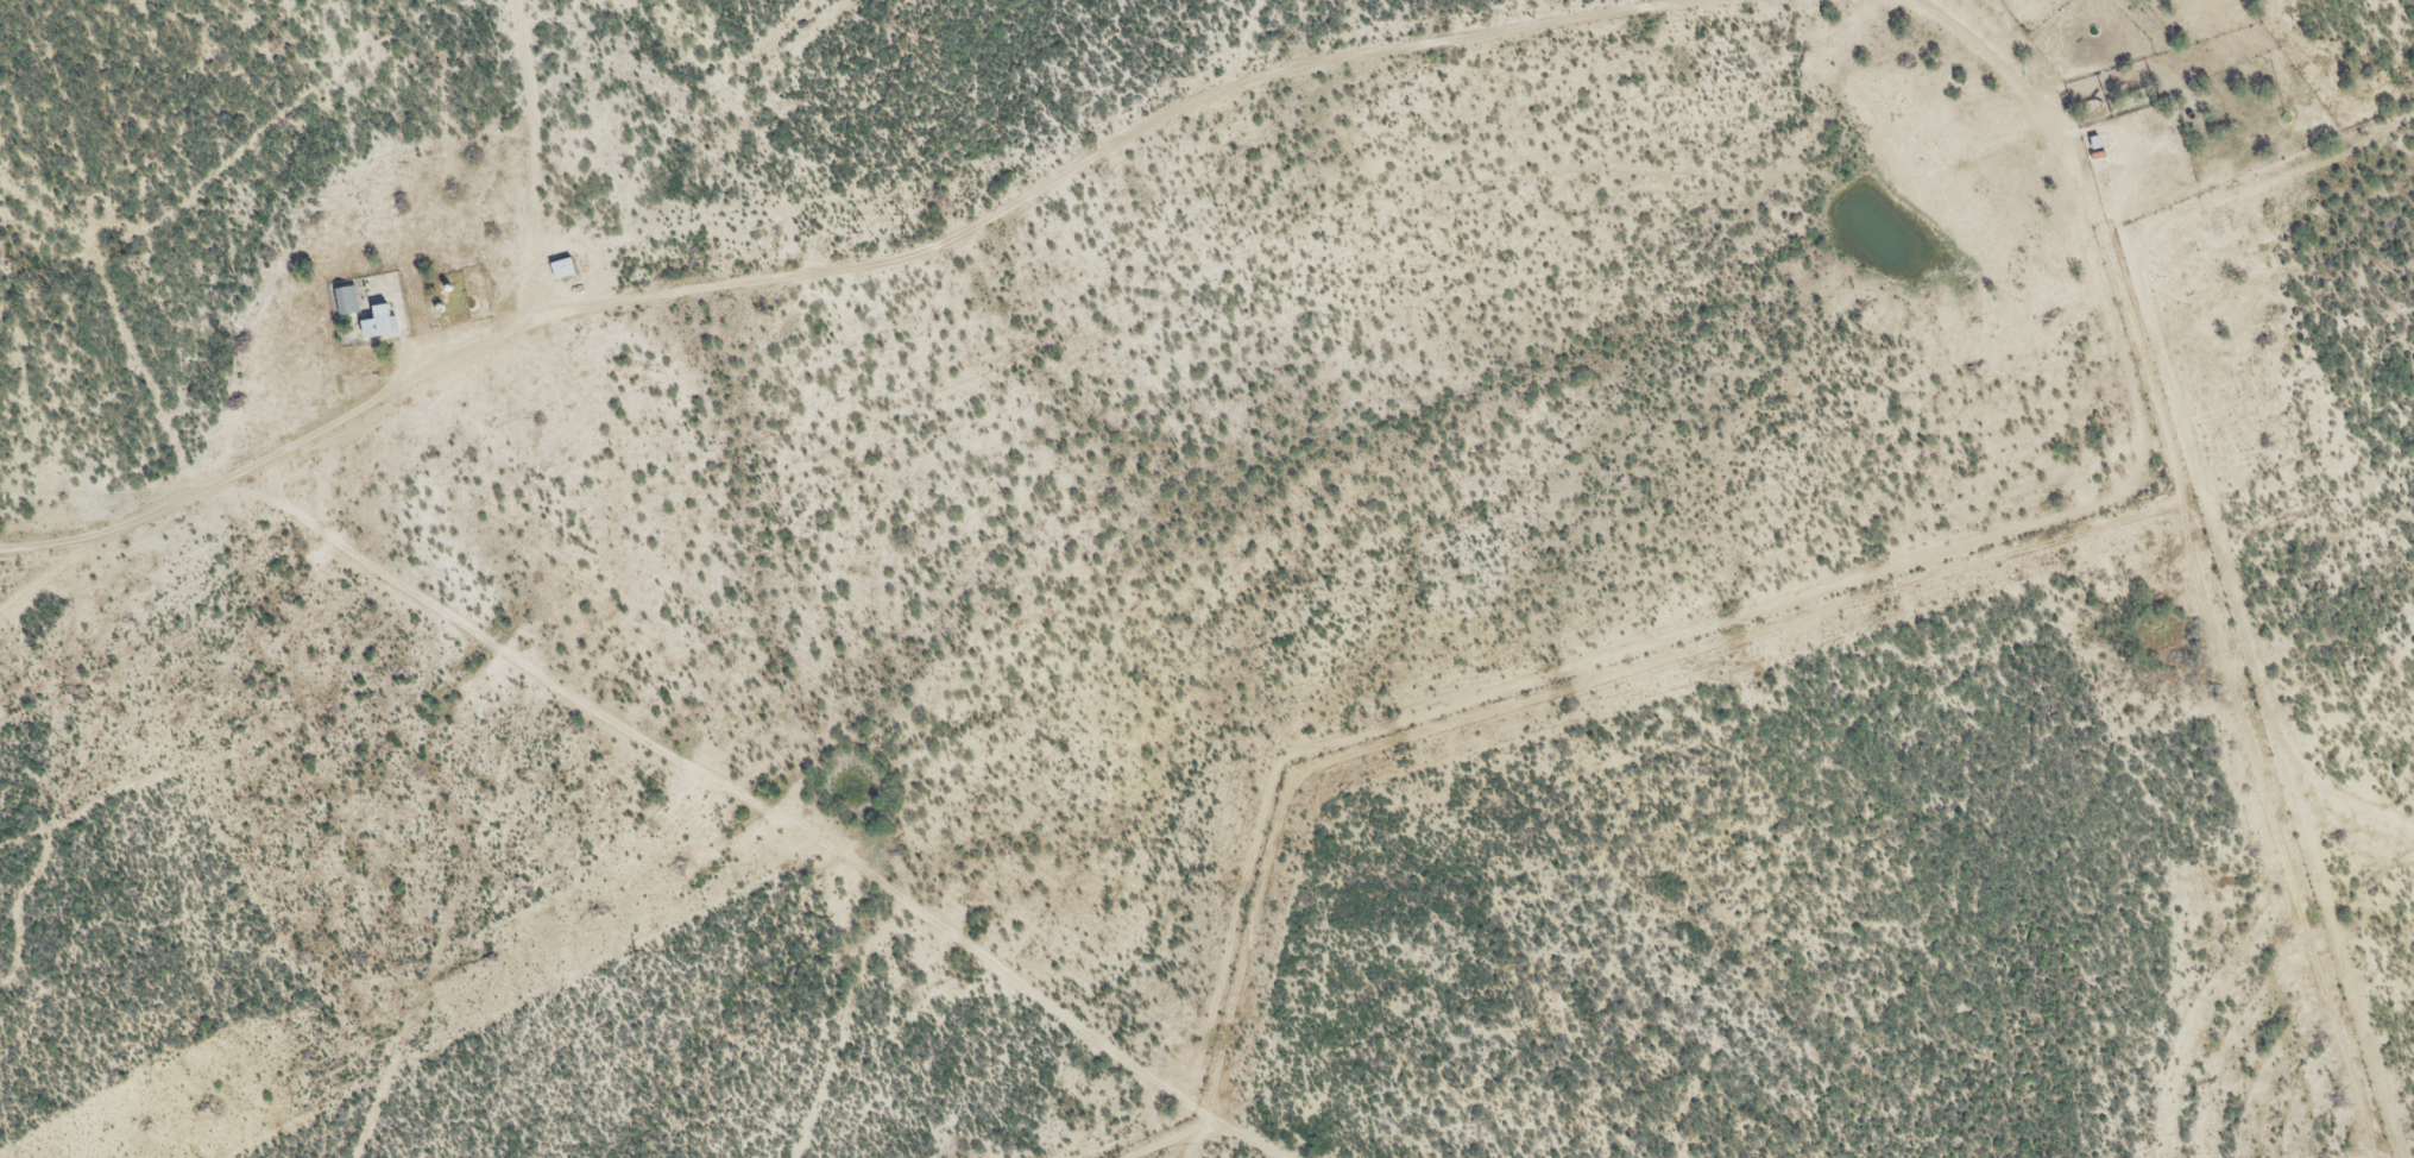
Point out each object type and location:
building: (567, 270)
building: (363, 320)

